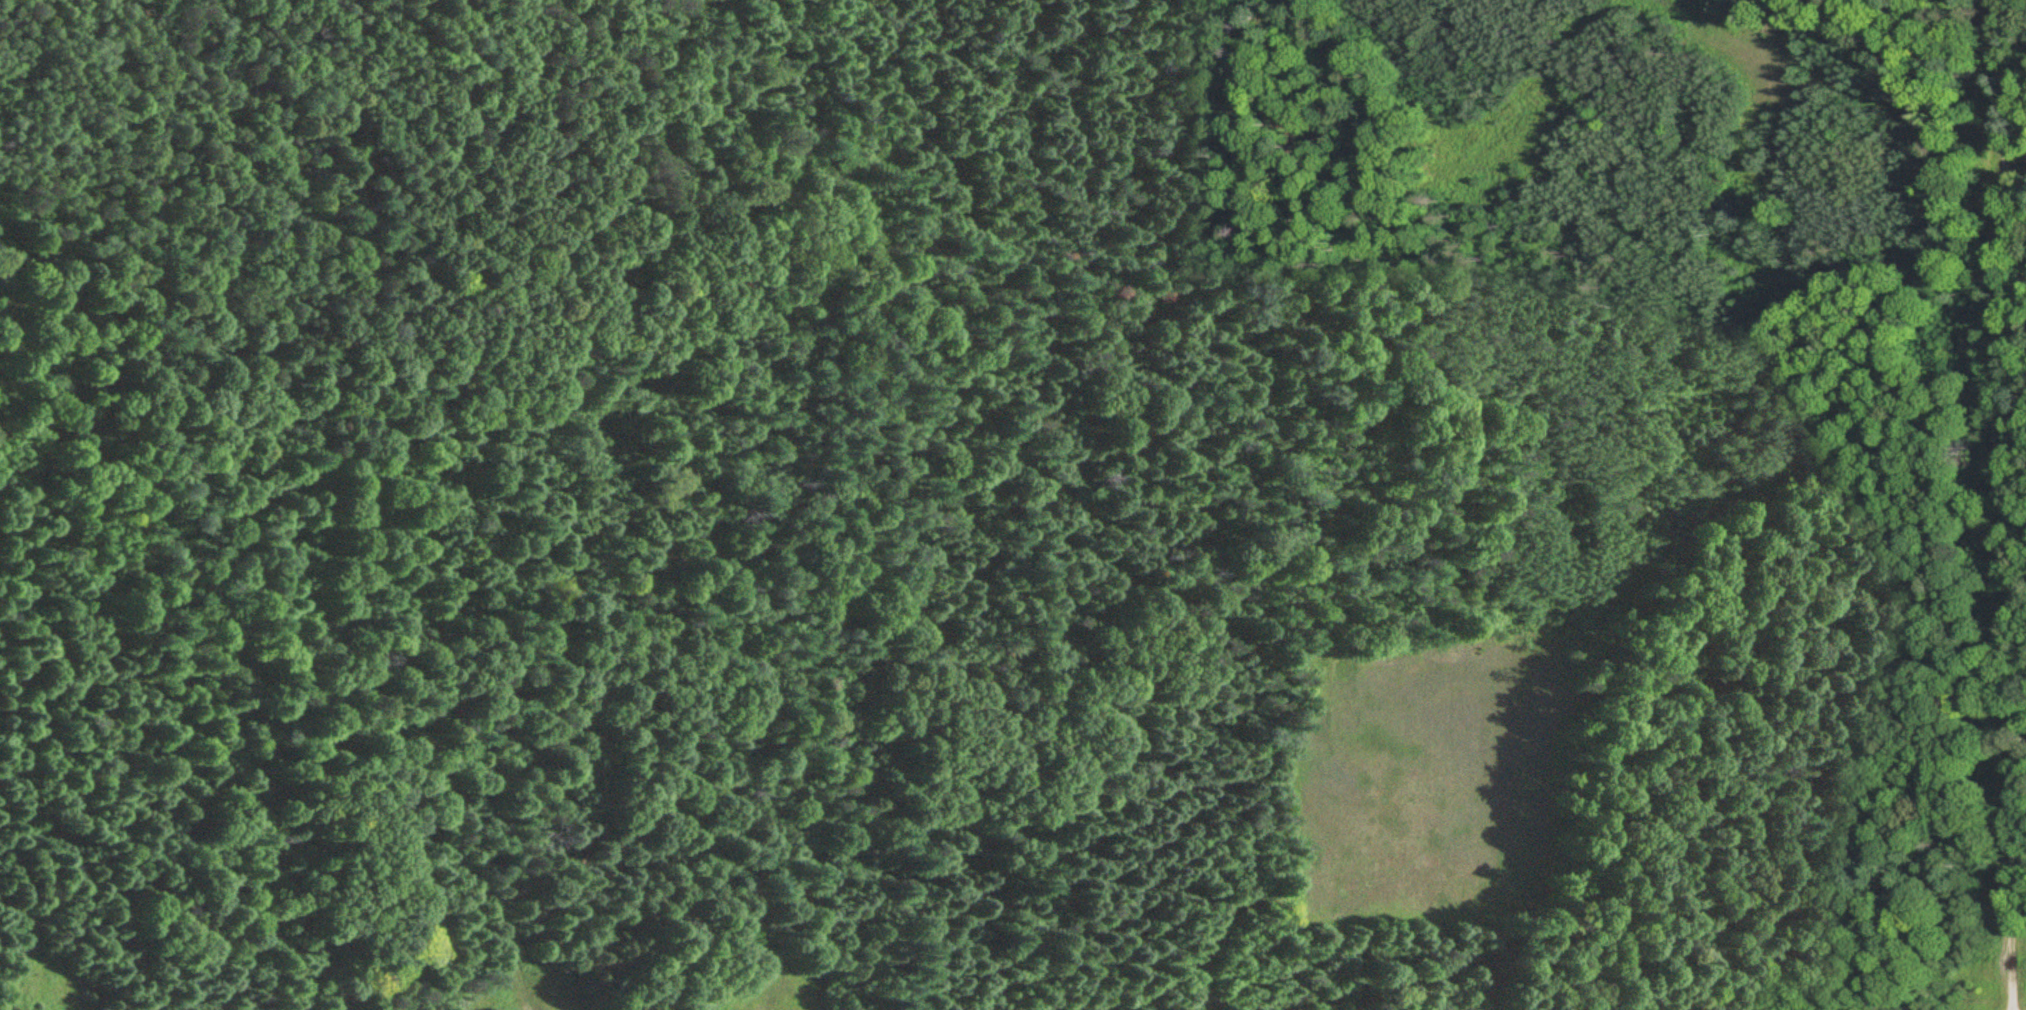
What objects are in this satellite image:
road: (2007, 505)

